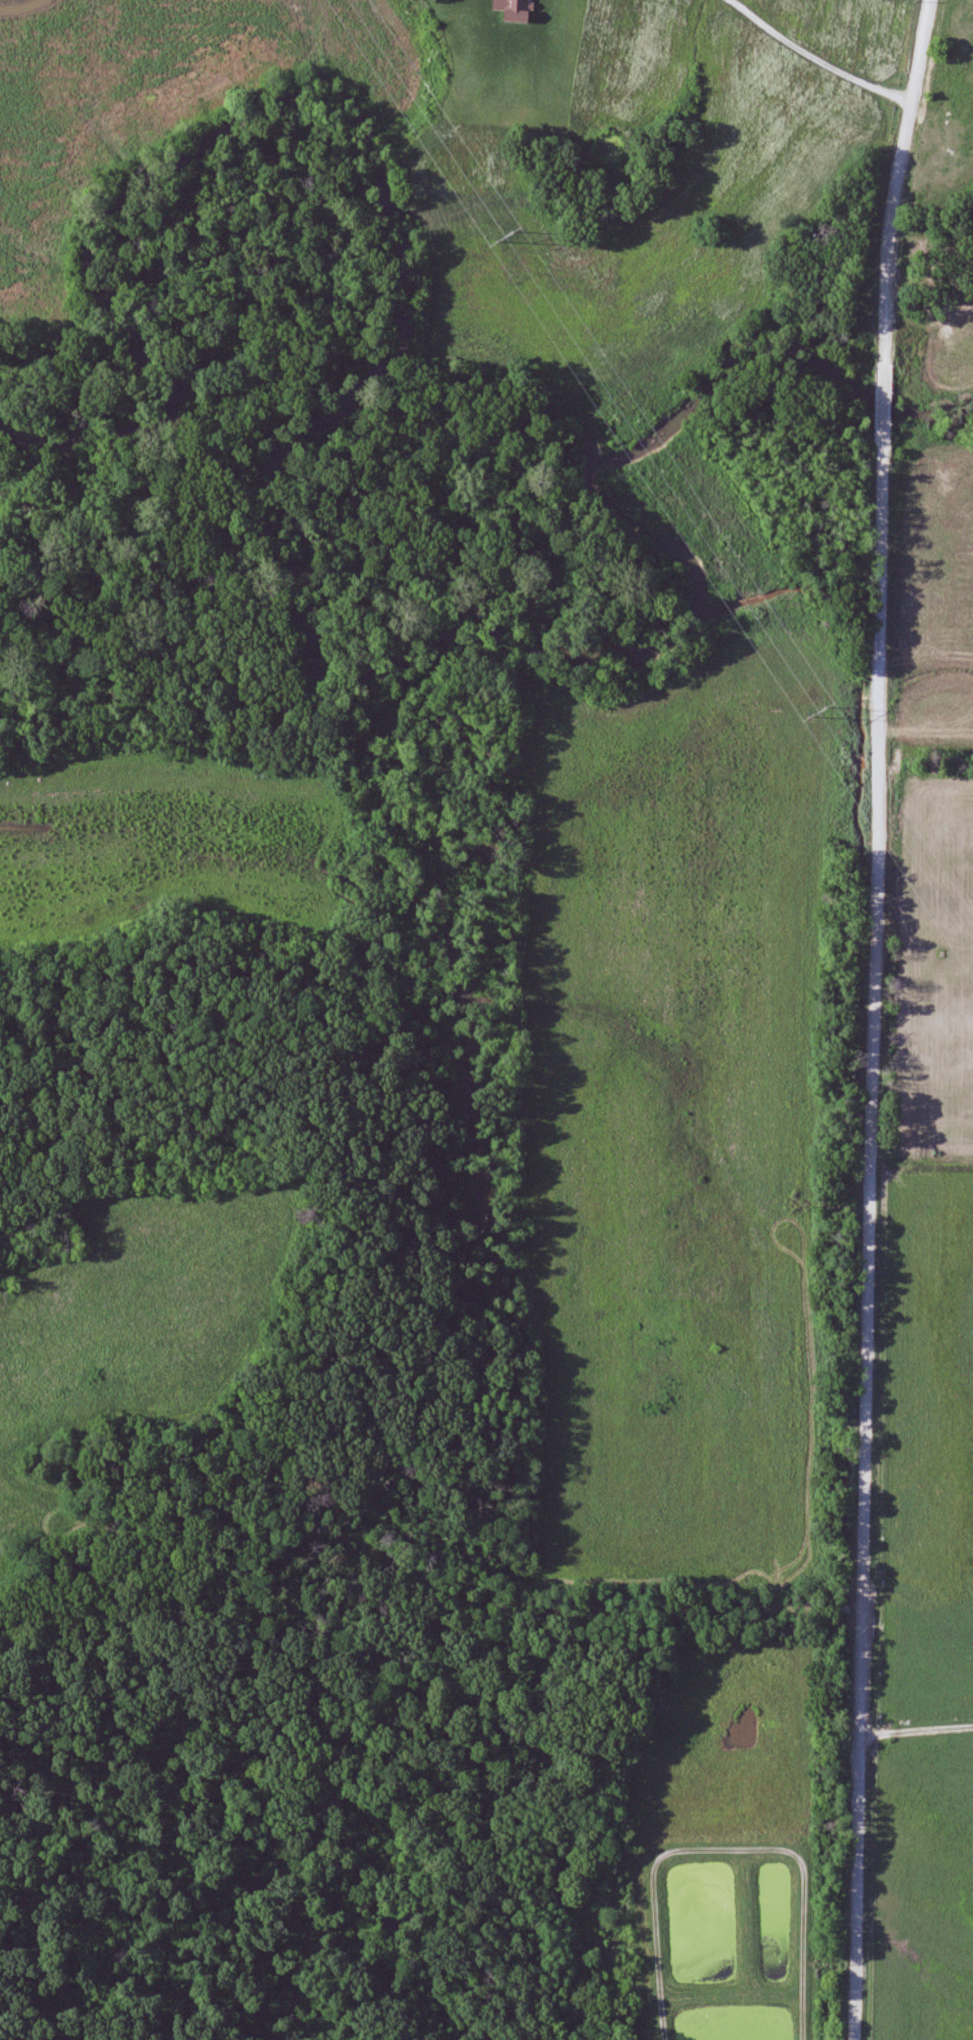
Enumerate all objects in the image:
building: (484, 17)
road: (825, 54)
road: (900, 168)
power tower: (505, 236)
road: (881, 395)
power tower: (814, 710)
road: (865, 1245)
road: (526, 1610)
road: (915, 1730)

